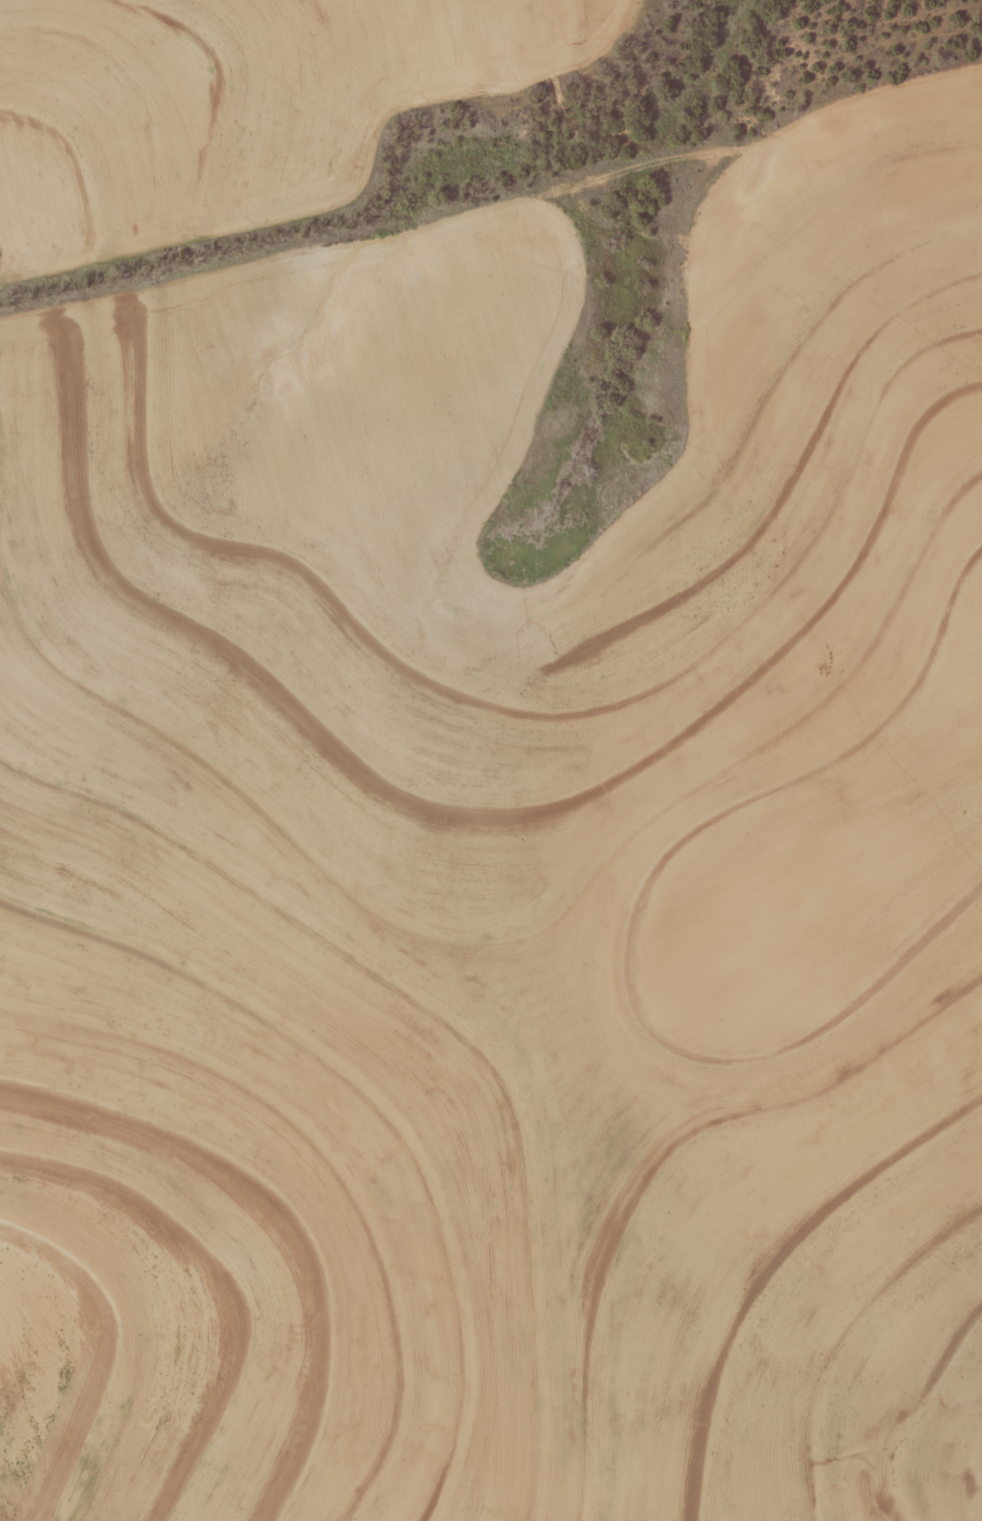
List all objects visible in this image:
road: (491, 193)

